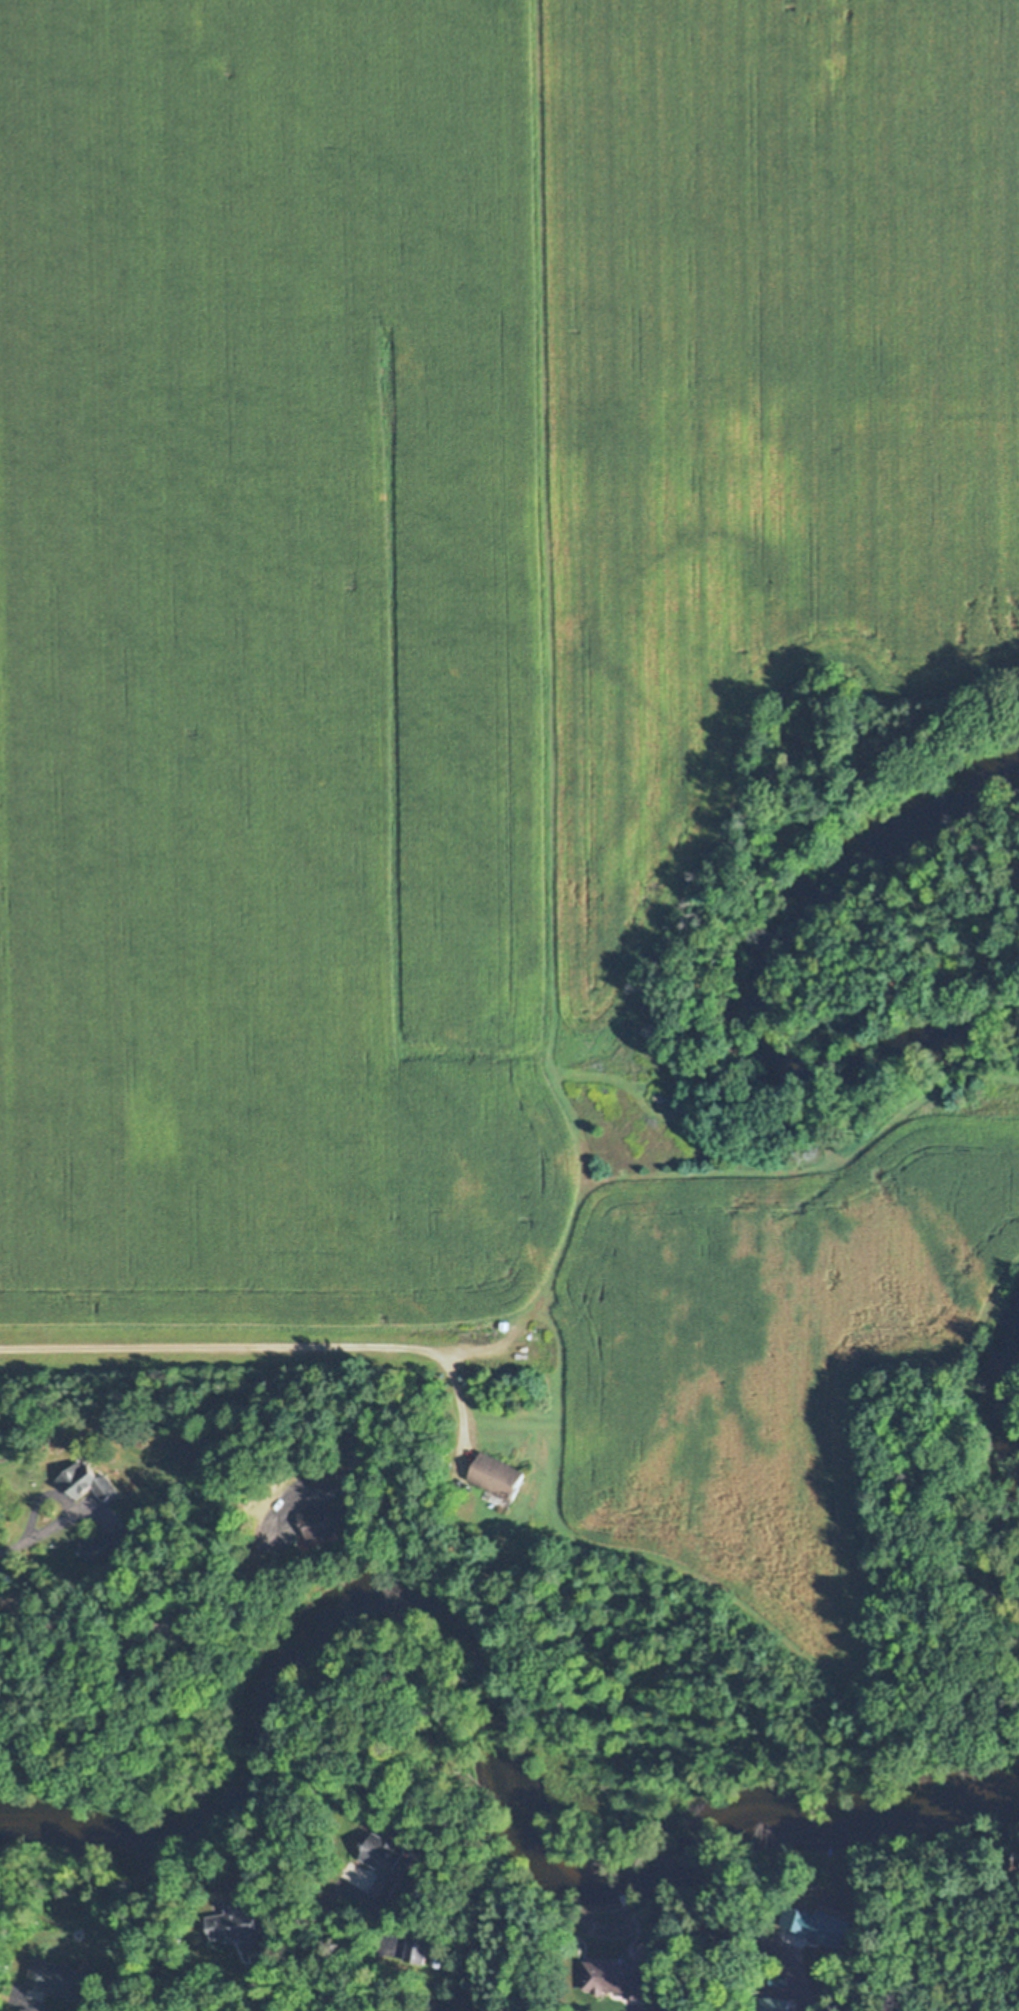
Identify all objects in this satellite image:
river: (753, 980)
road: (265, 1348)
river: (999, 1392)
building: (332, 1473)
building: (496, 1476)
building: (86, 1484)
road: (36, 1501)
building: (330, 1519)
road: (53, 1532)
building: (107, 1546)
road: (11, 1547)
road: (157, 1631)
river: (511, 1697)
building: (385, 1864)
road: (346, 1891)
building: (816, 1926)
building: (237, 1930)
building: (415, 1949)
building: (614, 1979)
building: (59, 1981)
road: (260, 1984)
road: (815, 1991)
building: (774, 2005)
road: (625, 2010)

